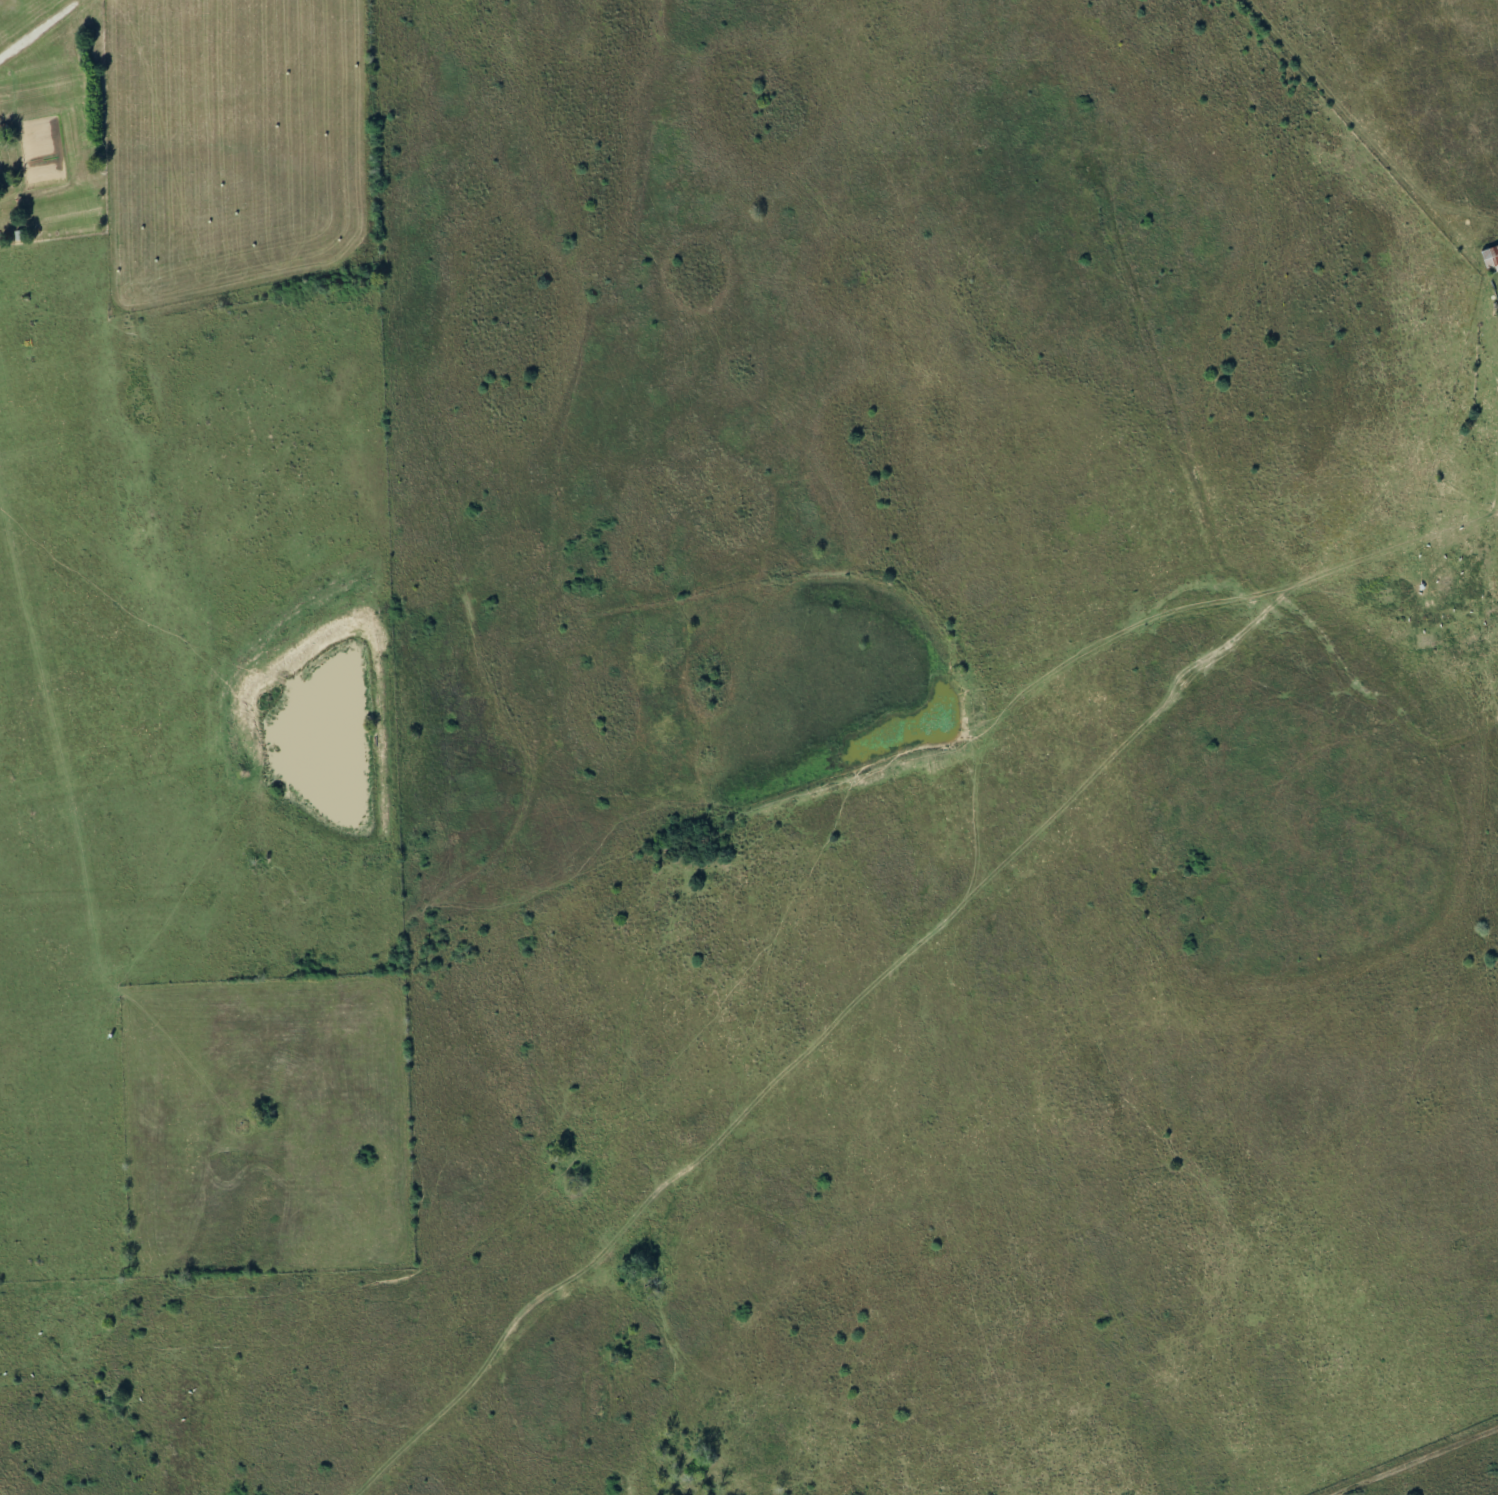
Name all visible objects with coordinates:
building: (1493, 257)

